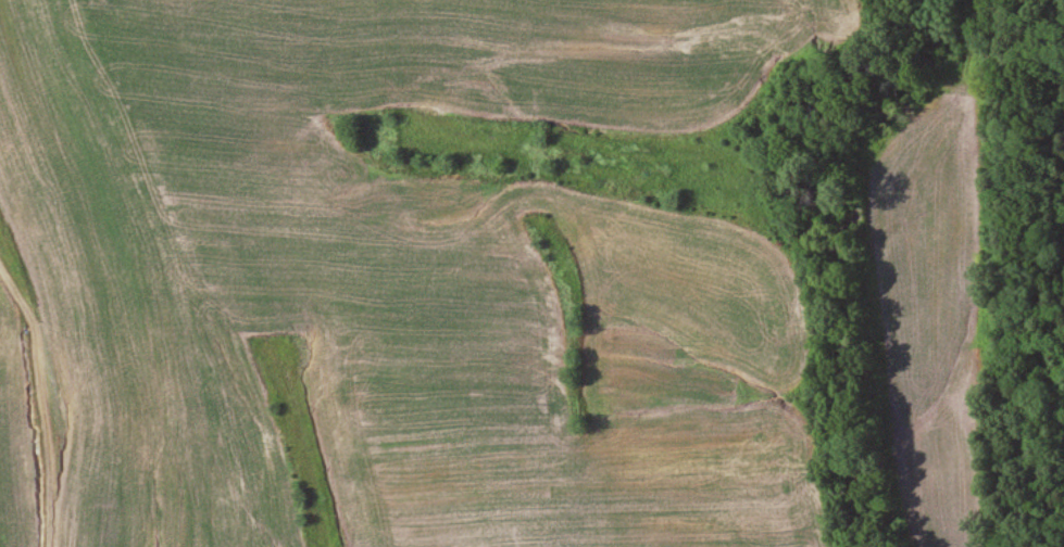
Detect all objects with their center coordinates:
road: (39, 393)

